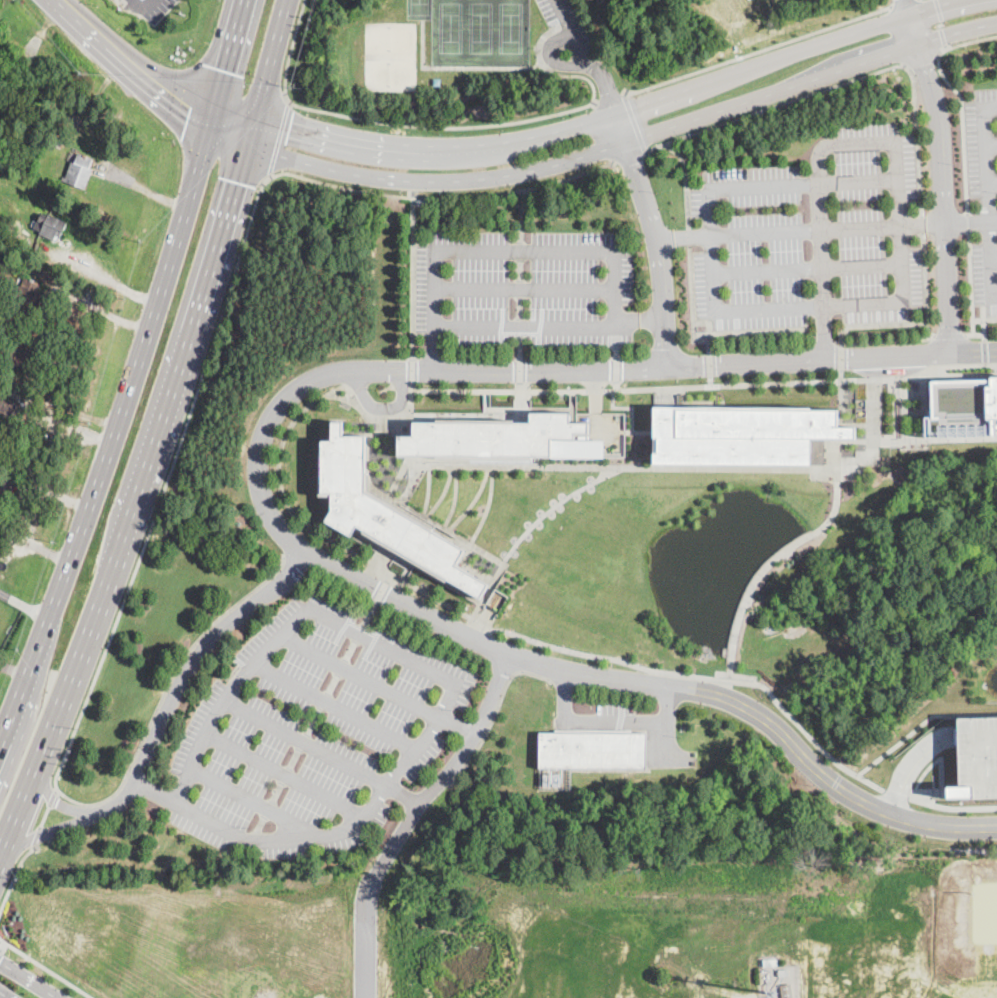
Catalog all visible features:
road: (903, 3)
road: (143, 6)
road: (903, 8)
road: (934, 8)
park: (417, 9)
road: (939, 11)
parking lot: (565, 16)
road: (941, 24)
park: (448, 27)
park: (508, 27)
park: (478, 28)
road: (955, 30)
road: (540, 38)
road: (943, 38)
road: (292, 50)
road: (759, 52)
park: (387, 56)
road: (271, 58)
road: (585, 58)
road: (225, 59)
road: (550, 59)
road: (129, 60)
road: (921, 61)
road: (760, 66)
road: (457, 67)
traffic signals: (223, 69)
road: (578, 76)
road: (239, 80)
building: (436, 81)
road: (847, 83)
road: (769, 93)
road: (610, 100)
road: (962, 100)
traffic signals: (191, 106)
road: (187, 107)
road: (230, 117)
road: (636, 125)
traffic signals: (290, 126)
road: (441, 127)
road: (620, 129)
road: (248, 131)
road: (226, 132)
building: (63, 136)
road: (279, 139)
road: (991, 146)
road: (434, 148)
road: (630, 159)
road: (222, 165)
building: (79, 171)
road: (434, 180)
traffic signals: (234, 181)
road: (688, 182)
road: (859, 182)
road: (940, 183)
road: (992, 183)
parking lot: (983, 193)
road: (988, 197)
building: (1, 214)
road: (523, 216)
road: (993, 220)
road: (946, 223)
road: (969, 223)
building: (50, 225)
road: (923, 227)
road: (805, 230)
parking lot: (812, 235)
road: (682, 237)
road: (689, 238)
road: (821, 245)
road: (614, 249)
road: (520, 250)
road: (657, 251)
road: (994, 259)
road: (519, 269)
road: (808, 269)
road: (413, 275)
road: (103, 278)
road: (971, 284)
road: (519, 288)
parking lot: (525, 288)
road: (926, 288)
road: (525, 290)
building: (26, 296)
road: (831, 306)
road: (519, 307)
road: (692, 309)
road: (101, 310)
road: (640, 318)
road: (520, 326)
road: (501, 330)
road: (540, 331)
road: (824, 332)
road: (977, 335)
road: (950, 336)
road: (539, 340)
road: (888, 341)
road: (519, 347)
building: (13, 350)
road: (435, 351)
road: (616, 351)
road: (973, 353)
road: (806, 359)
road: (710, 364)
road: (964, 367)
road: (616, 368)
road: (519, 370)
road: (413, 371)
road: (711, 380)
road: (752, 383)
road: (616, 384)
road: (519, 385)
road: (413, 386)
building: (2, 387)
road: (596, 389)
road: (499, 390)
road: (670, 390)
road: (670, 405)
road: (383, 407)
building: (962, 407)
road: (631, 412)
building: (8, 413)
road: (385, 419)
road: (111, 432)
building: (742, 433)
building: (502, 438)
road: (536, 466)
road: (411, 484)
road: (429, 490)
road: (165, 491)
road: (443, 493)
road: (454, 497)
road: (131, 501)
road: (473, 501)
road: (487, 506)
road: (545, 512)
building: (384, 513)
road: (310, 525)
road: (32, 544)
road: (766, 566)
road: (393, 597)
road: (23, 605)
road: (484, 622)
road: (12, 670)
road: (184, 671)
road: (440, 673)
road: (717, 674)
road: (706, 676)
road: (360, 677)
road: (563, 695)
road: (334, 707)
road: (494, 714)
road: (632, 720)
road: (920, 723)
road: (455, 727)
parking lot: (313, 733)
road: (306, 743)
building: (592, 749)
building: (980, 757)
parking garage: (980, 757)
road: (914, 759)
road: (932, 761)
road: (446, 771)
road: (285, 774)
building: (555, 777)
road: (155, 792)
road: (895, 793)
road: (922, 793)
road: (403, 795)
road: (53, 797)
road: (55, 800)
road: (252, 801)
road: (951, 807)
road: (45, 817)
road: (48, 832)
road: (36, 837)
road: (15, 876)
road: (364, 938)
road: (3, 948)
traffic signals: (0, 961)
building: (770, 962)
road: (46, 967)
building: (783, 971)
road: (28, 979)
building: (786, 991)
road: (4, 995)
road: (749, 997)

